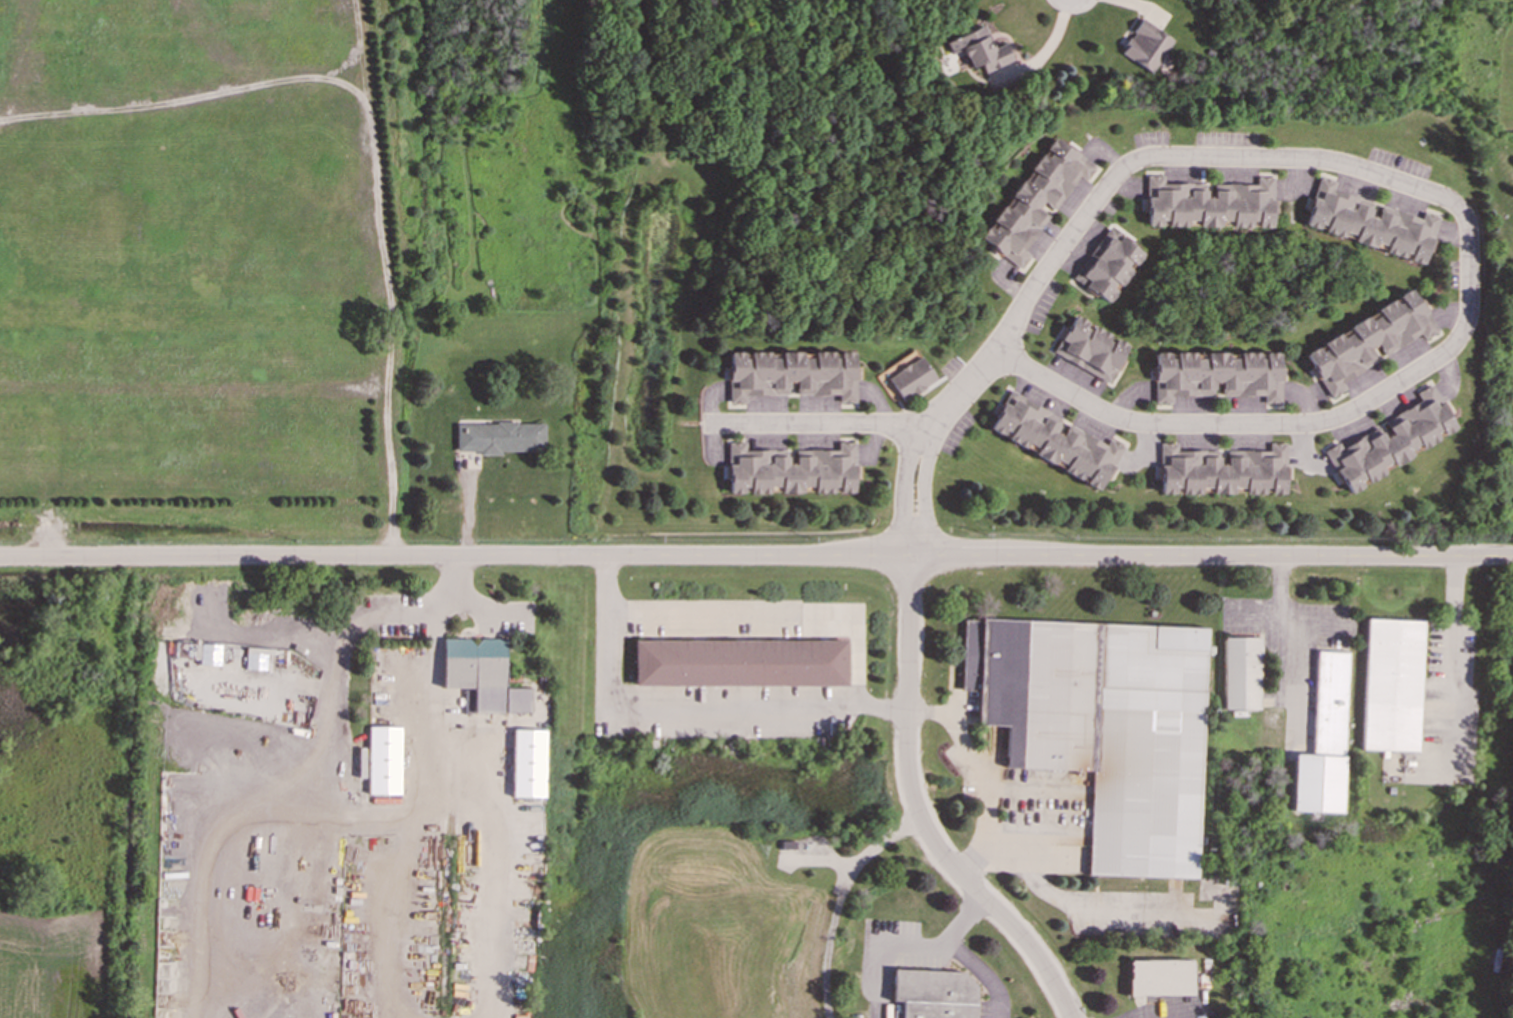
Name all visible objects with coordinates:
road: (1048, 45)
building: (1146, 46)
building: (978, 49)
building: (1035, 199)
building: (1210, 203)
road: (1094, 205)
building: (1370, 222)
building: (1107, 265)
building: (1368, 340)
building: (1089, 348)
building: (790, 374)
building: (1215, 374)
building: (905, 376)
road: (823, 423)
road: (1290, 425)
building: (498, 437)
building: (1054, 440)
building: (1390, 440)
building: (791, 469)
building: (1222, 470)
road: (756, 556)
road: (778, 614)
road: (1294, 634)
road: (1455, 642)
building: (209, 654)
building: (254, 659)
building: (740, 663)
building: (1241, 673)
building: (481, 676)
building: (1392, 685)
road: (677, 713)
building: (1103, 726)
building: (1324, 740)
road: (335, 755)
road: (431, 756)
building: (383, 760)
building: (527, 763)
road: (981, 773)
road: (914, 814)
road: (492, 863)
road: (837, 899)
road: (1081, 913)
road: (958, 956)
building: (1160, 976)
building: (933, 993)
road: (1169, 1016)

